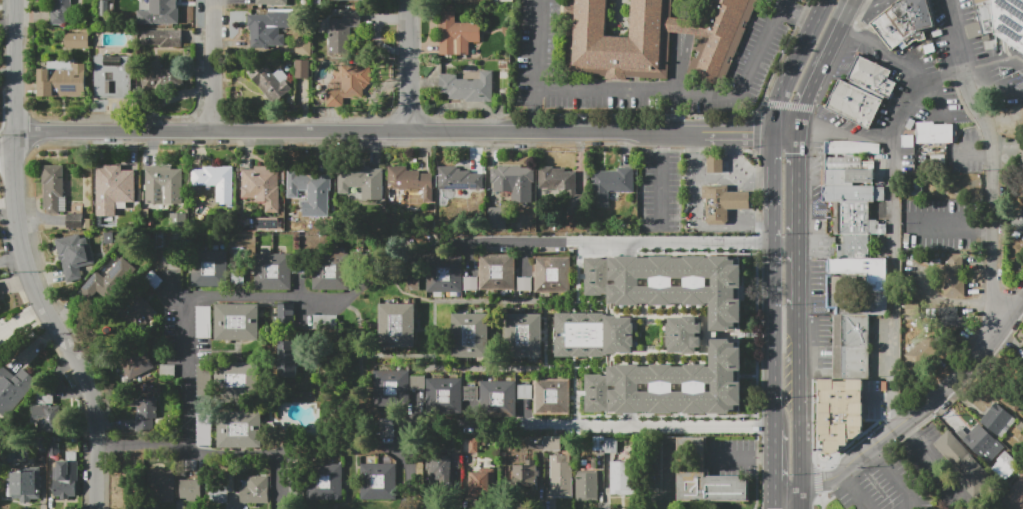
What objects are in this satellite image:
building: (272, 2)
road: (861, 2)
road: (876, 4)
road: (681, 8)
building: (59, 11)
building: (166, 11)
road: (859, 12)
road: (799, 13)
building: (1002, 19)
building: (902, 21)
road: (681, 24)
building: (268, 27)
building: (342, 31)
building: (457, 35)
building: (161, 38)
building: (654, 39)
road: (958, 39)
building: (76, 40)
building: (303, 48)
road: (883, 52)
road: (994, 62)
road: (795, 64)
road: (820, 65)
road: (219, 67)
road: (410, 67)
building: (303, 69)
road: (14, 71)
building: (158, 76)
building: (113, 77)
building: (63, 79)
road: (676, 82)
road: (996, 82)
building: (272, 83)
building: (351, 86)
building: (467, 87)
building: (863, 92)
road: (645, 93)
road: (786, 106)
road: (536, 111)
building: (1012, 112)
road: (692, 115)
road: (688, 133)
road: (739, 133)
building: (935, 133)
road: (341, 134)
road: (784, 134)
road: (843, 138)
road: (662, 144)
road: (7, 145)
road: (733, 153)
road: (970, 154)
building: (1020, 160)
building: (715, 163)
gas station: (715, 163)
road: (744, 172)
building: (458, 177)
building: (555, 178)
building: (360, 180)
building: (217, 182)
building: (514, 182)
building: (410, 183)
building: (262, 186)
building: (610, 186)
building: (53, 188)
building: (161, 189)
road: (661, 189)
building: (113, 190)
building: (311, 192)
building: (852, 194)
road: (735, 200)
building: (723, 203)
road: (992, 204)
road: (694, 205)
building: (495, 218)
road: (749, 219)
building: (1018, 219)
building: (73, 221)
road: (797, 222)
parking lot: (943, 226)
road: (892, 229)
road: (608, 242)
building: (74, 255)
building: (175, 265)
building: (212, 269)
building: (331, 269)
building: (862, 270)
building: (273, 271)
building: (497, 272)
building: (444, 274)
building: (553, 275)
building: (952, 275)
building: (152, 279)
road: (773, 279)
building: (671, 283)
building: (107, 284)
building: (845, 290)
road: (186, 298)
building: (0, 309)
building: (284, 311)
building: (136, 312)
building: (947, 316)
building: (237, 322)
building: (397, 325)
road: (54, 327)
building: (471, 334)
building: (593, 334)
building: (684, 334)
building: (524, 336)
building: (851, 346)
building: (1022, 348)
building: (921, 352)
road: (798, 353)
building: (1, 355)
building: (288, 358)
building: (131, 362)
building: (167, 370)
building: (238, 380)
building: (416, 382)
building: (671, 385)
building: (392, 388)
building: (13, 389)
building: (523, 391)
building: (469, 395)
building: (445, 396)
building: (551, 397)
building: (498, 399)
road: (921, 408)
building: (46, 411)
building: (145, 414)
building: (994, 417)
road: (585, 427)
building: (239, 430)
building: (980, 442)
building: (598, 443)
building: (544, 444)
building: (473, 445)
building: (610, 445)
road: (800, 447)
road: (213, 456)
road: (735, 456)
road: (764, 457)
road: (930, 460)
building: (964, 464)
road: (773, 467)
road: (400, 469)
building: (64, 471)
building: (529, 475)
building: (444, 476)
building: (706, 476)
building: (560, 477)
building: (622, 477)
road: (894, 477)
road: (661, 478)
building: (587, 480)
building: (324, 481)
building: (378, 482)
building: (26, 483)
building: (482, 484)
building: (163, 485)
building: (218, 486)
building: (189, 489)
building: (255, 489)
road: (852, 489)
building: (1014, 496)
road: (796, 504)
road: (800, 504)

